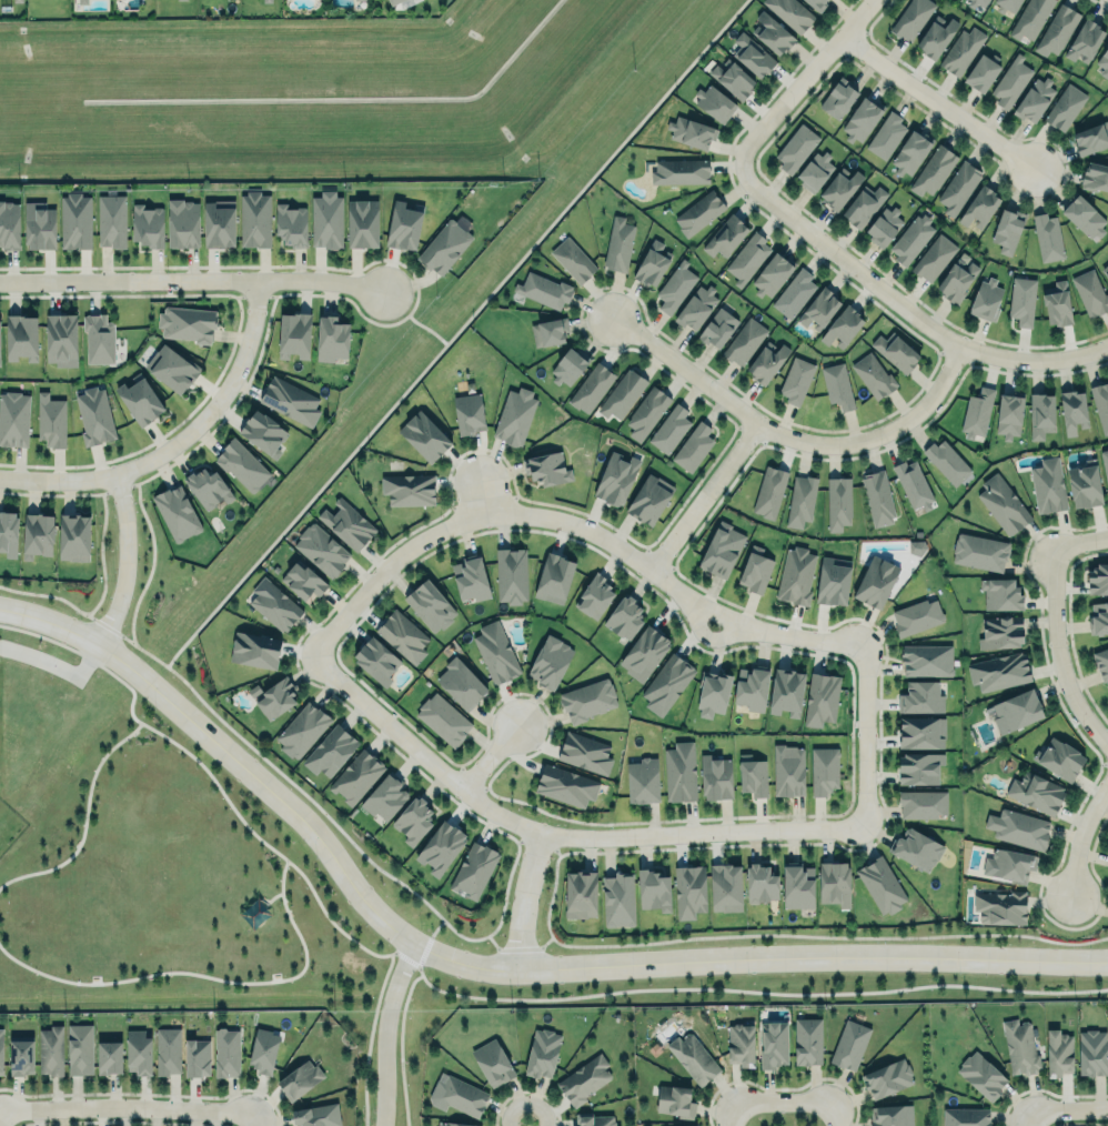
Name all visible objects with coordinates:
building: (181, 0)
building: (354, 0)
building: (82, 1)
building: (393, 1)
building: (976, 2)
building: (815, 3)
building: (1007, 4)
building: (790, 12)
building: (911, 18)
building: (1030, 18)
building: (1057, 30)
building: (772, 33)
building: (936, 36)
building: (1085, 40)
building: (961, 50)
building: (752, 54)
building: (1104, 61)
building: (981, 73)
building: (733, 78)
road: (803, 79)
building: (1010, 81)
building: (838, 97)
building: (1035, 98)
road: (938, 101)
building: (714, 102)
building: (1065, 105)
building: (862, 119)
building: (691, 132)
building: (886, 135)
building: (1091, 138)
building: (795, 148)
building: (909, 152)
building: (681, 170)
building: (933, 170)
building: (814, 171)
building: (1095, 175)
building: (958, 187)
building: (839, 188)
building: (863, 205)
building: (979, 207)
building: (699, 212)
building: (1084, 215)
building: (255, 219)
building: (326, 219)
building: (75, 221)
building: (111, 221)
building: (363, 222)
building: (183, 223)
building: (403, 223)
building: (147, 224)
building: (291, 224)
building: (9, 225)
building: (39, 225)
building: (218, 225)
building: (884, 225)
building: (1007, 230)
building: (726, 235)
building: (1047, 237)
building: (911, 239)
building: (445, 242)
building: (617, 242)
building: (934, 257)
building: (1107, 257)
building: (748, 258)
building: (573, 260)
building: (652, 263)
building: (1105, 269)
building: (772, 275)
road: (192, 278)
building: (956, 279)
building: (675, 285)
building: (543, 289)
building: (1090, 292)
building: (794, 293)
building: (986, 299)
building: (1023, 300)
building: (1056, 302)
road: (903, 305)
building: (696, 306)
building: (819, 309)
building: (187, 323)
building: (843, 325)
building: (717, 328)
building: (548, 332)
building: (294, 334)
building: (21, 336)
building: (331, 338)
building: (61, 339)
building: (98, 339)
building: (744, 341)
building: (896, 351)
building: (766, 362)
building: (0, 365)
building: (567, 366)
building: (171, 368)
building: (873, 375)
building: (795, 380)
building: (837, 385)
building: (592, 388)
building: (622, 394)
building: (140, 399)
building: (290, 401)
building: (1100, 404)
building: (1072, 410)
building: (646, 412)
building: (469, 413)
building: (977, 413)
building: (513, 414)
building: (1041, 414)
building: (94, 415)
building: (1009, 415)
building: (13, 419)
building: (51, 421)
building: (669, 429)
building: (263, 432)
road: (788, 433)
building: (424, 436)
road: (178, 439)
building: (693, 446)
building: (946, 461)
building: (1105, 463)
building: (241, 464)
building: (547, 468)
building: (616, 479)
building: (913, 484)
road: (320, 485)
building: (1048, 485)
building: (1085, 486)
building: (207, 487)
building: (409, 489)
building: (769, 491)
road: (482, 493)
road: (704, 495)
building: (877, 497)
building: (649, 499)
building: (800, 500)
building: (838, 503)
building: (1003, 504)
building: (175, 511)
road: (574, 523)
building: (347, 524)
building: (9, 533)
building: (38, 535)
road: (1078, 536)
building: (74, 537)
building: (721, 549)
building: (321, 550)
building: (979, 551)
road: (125, 560)
building: (755, 570)
building: (511, 574)
building: (796, 575)
building: (554, 577)
building: (471, 579)
building: (1098, 579)
building: (832, 580)
building: (303, 581)
building: (876, 581)
building: (595, 591)
building: (1000, 592)
building: (271, 601)
building: (430, 605)
building: (624, 614)
building: (917, 616)
building: (1098, 617)
building: (1000, 632)
building: (402, 636)
road: (707, 636)
road: (135, 645)
building: (255, 650)
road: (1052, 652)
building: (495, 653)
building: (644, 653)
building: (376, 660)
building: (926, 660)
building: (550, 662)
building: (1101, 662)
road: (57, 665)
building: (998, 671)
building: (461, 683)
building: (666, 684)
building: (752, 687)
building: (786, 692)
building: (713, 694)
building: (273, 697)
building: (920, 697)
building: (820, 698)
building: (587, 700)
building: (1016, 711)
building: (442, 718)
building: (302, 730)
building: (920, 732)
road: (865, 736)
building: (329, 748)
building: (583, 750)
road: (488, 757)
building: (1059, 758)
building: (919, 767)
building: (787, 768)
building: (824, 770)
building: (678, 771)
building: (752, 775)
building: (356, 776)
building: (716, 777)
building: (643, 781)
building: (564, 783)
building: (1036, 792)
building: (384, 796)
building: (923, 804)
road: (84, 820)
building: (413, 820)
building: (1018, 827)
road: (555, 834)
road: (1078, 835)
building: (441, 848)
building: (916, 848)
building: (1009, 865)
building: (473, 871)
building: (761, 884)
building: (835, 884)
building: (725, 885)
building: (797, 885)
building: (880, 885)
building: (580, 891)
building: (654, 891)
building: (689, 891)
park: (170, 893)
road: (271, 895)
road: (522, 899)
building: (618, 899)
building: (1000, 907)
road: (485, 935)
road: (487, 965)
road: (204, 974)
road: (555, 997)
road: (386, 1031)
building: (807, 1040)
building: (741, 1044)
building: (773, 1044)
building: (849, 1045)
building: (1019, 1045)
building: (80, 1048)
building: (1091, 1049)
building: (50, 1050)
building: (168, 1050)
building: (263, 1050)
building: (1, 1052)
building: (139, 1052)
building: (226, 1052)
building: (542, 1053)
building: (1058, 1053)
building: (20, 1057)
building: (197, 1057)
building: (109, 1058)
building: (693, 1058)
building: (492, 1059)
building: (981, 1075)
building: (886, 1077)
building: (584, 1078)
building: (300, 1079)
building: (457, 1095)
building: (675, 1099)
road: (784, 1104)
road: (127, 1106)
road: (1071, 1114)
building: (318, 1115)
road: (732, 1115)
road: (836, 1115)
building: (890, 1115)
road: (254, 1117)
building: (966, 1117)
building: (593, 1119)
road: (1035, 1119)
road: (523, 1122)
building: (456, 1123)
building: (682, 1124)

